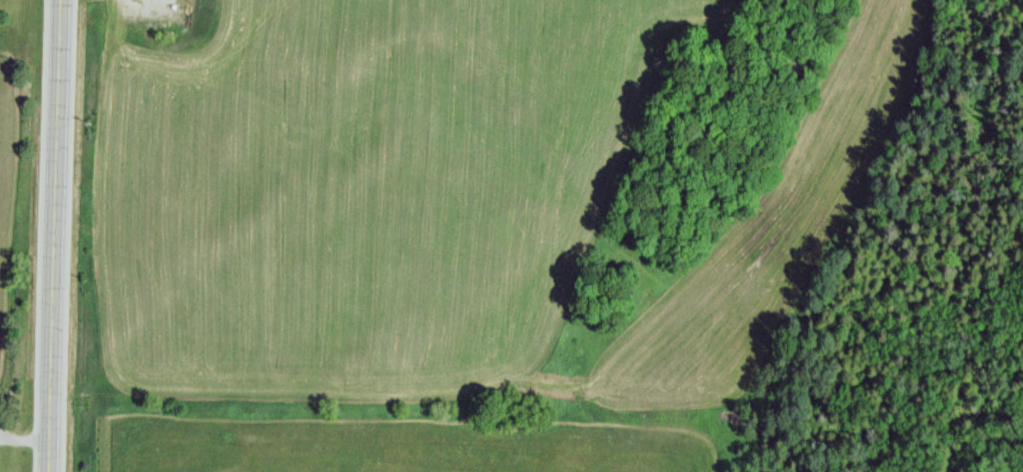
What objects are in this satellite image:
road: (50, 236)

